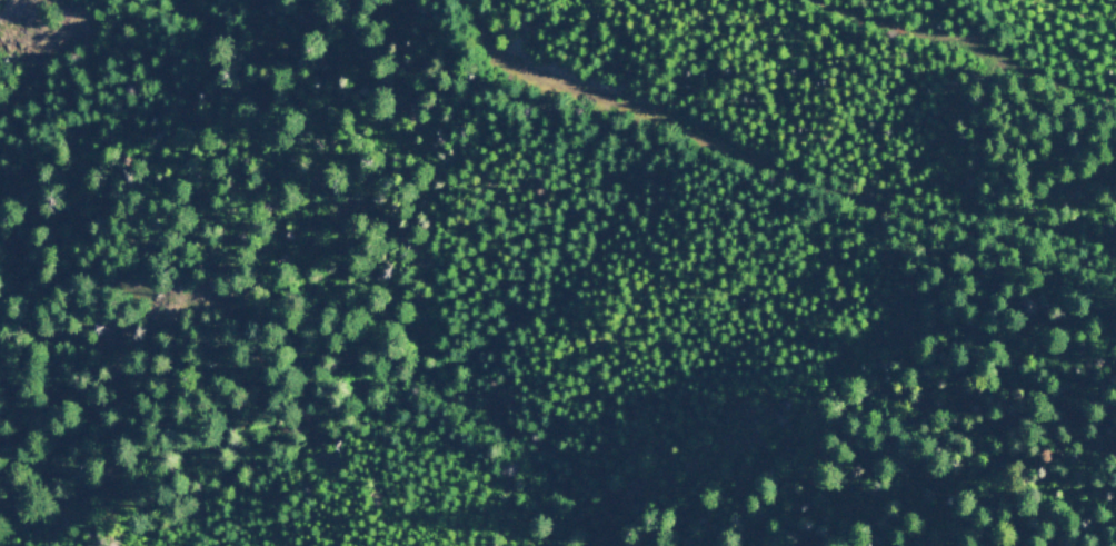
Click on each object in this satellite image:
road: (875, 116)

